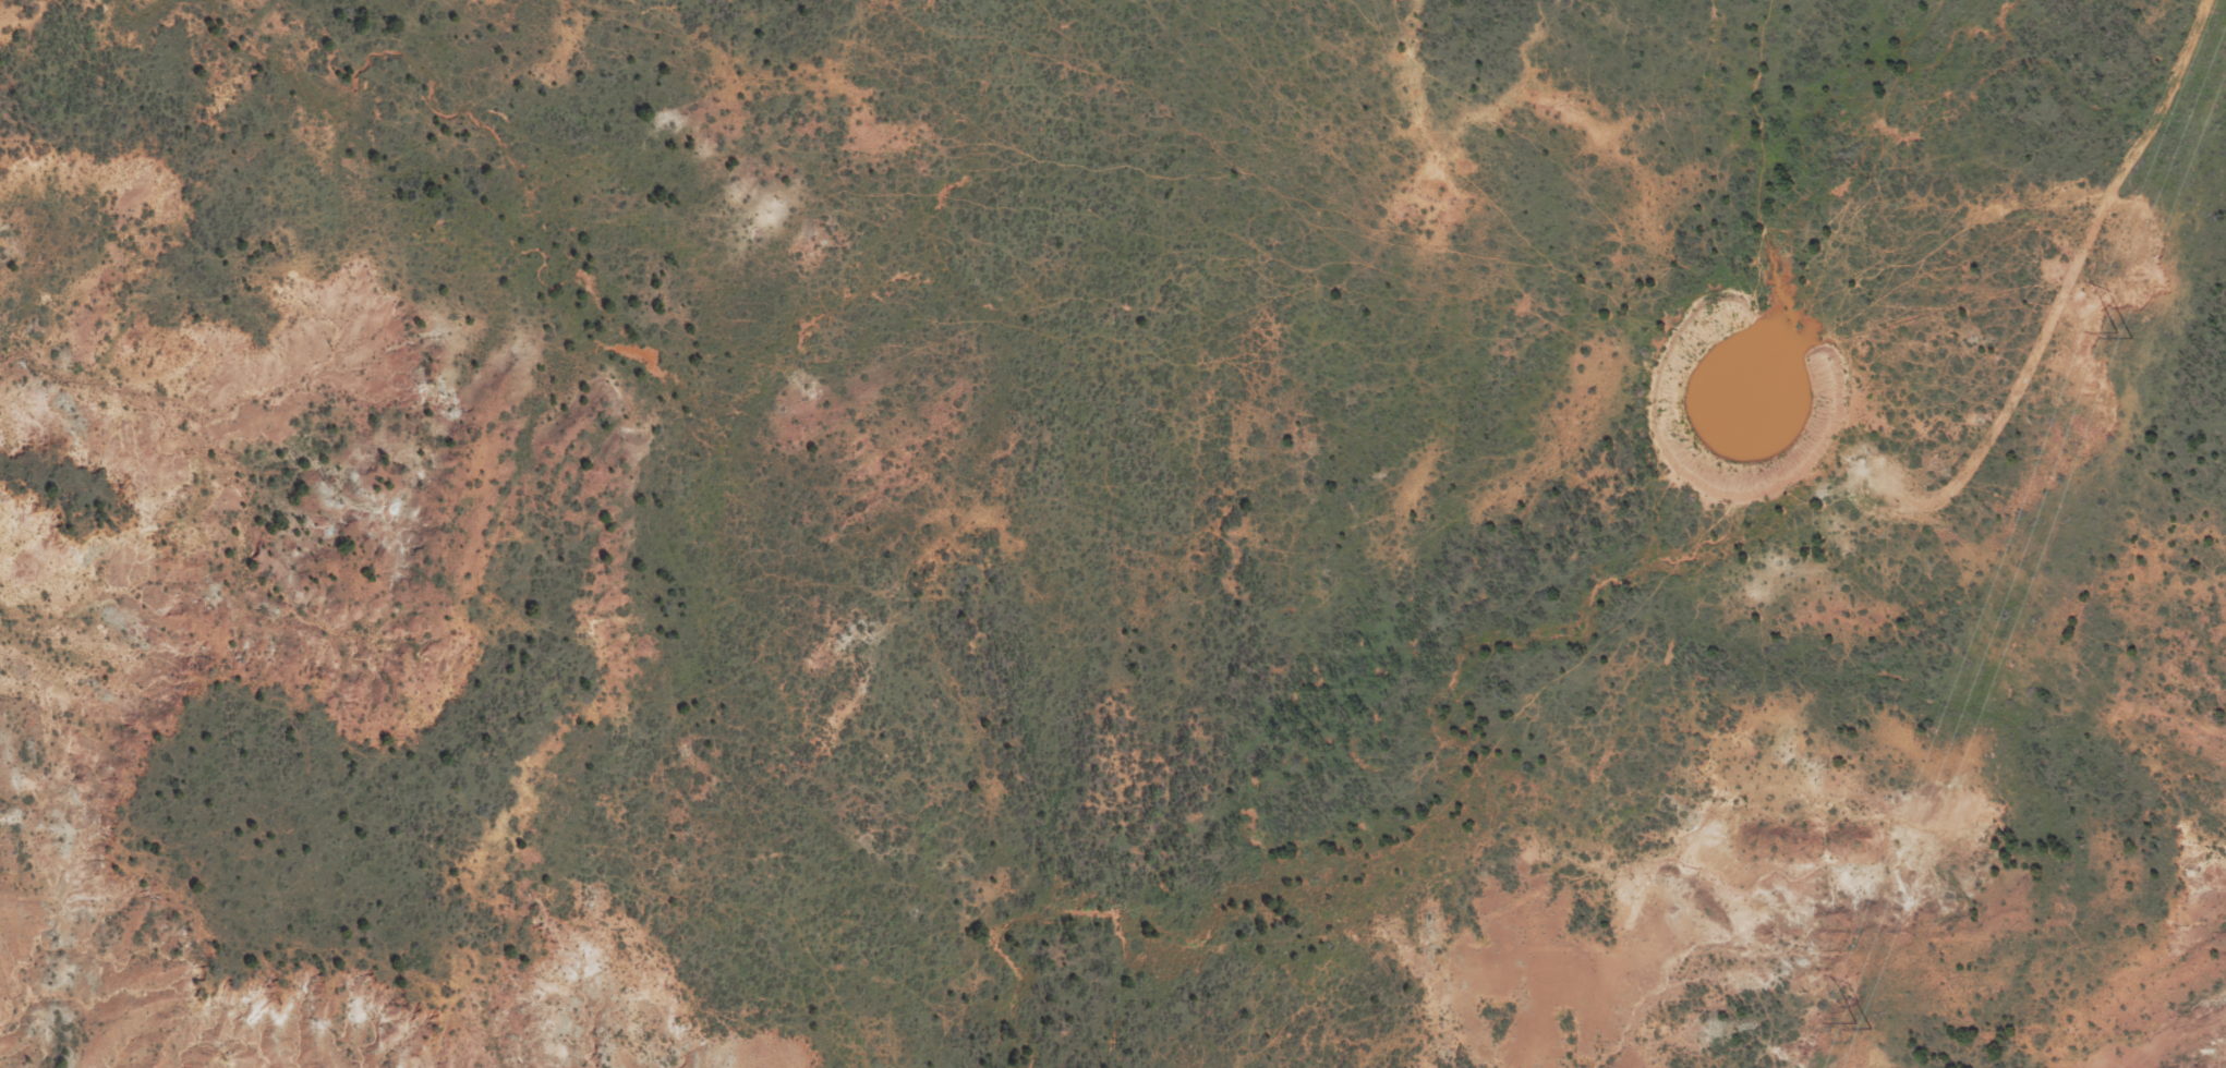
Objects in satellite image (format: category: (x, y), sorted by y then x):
power tower: (2124, 337)
power tower: (1858, 1027)

